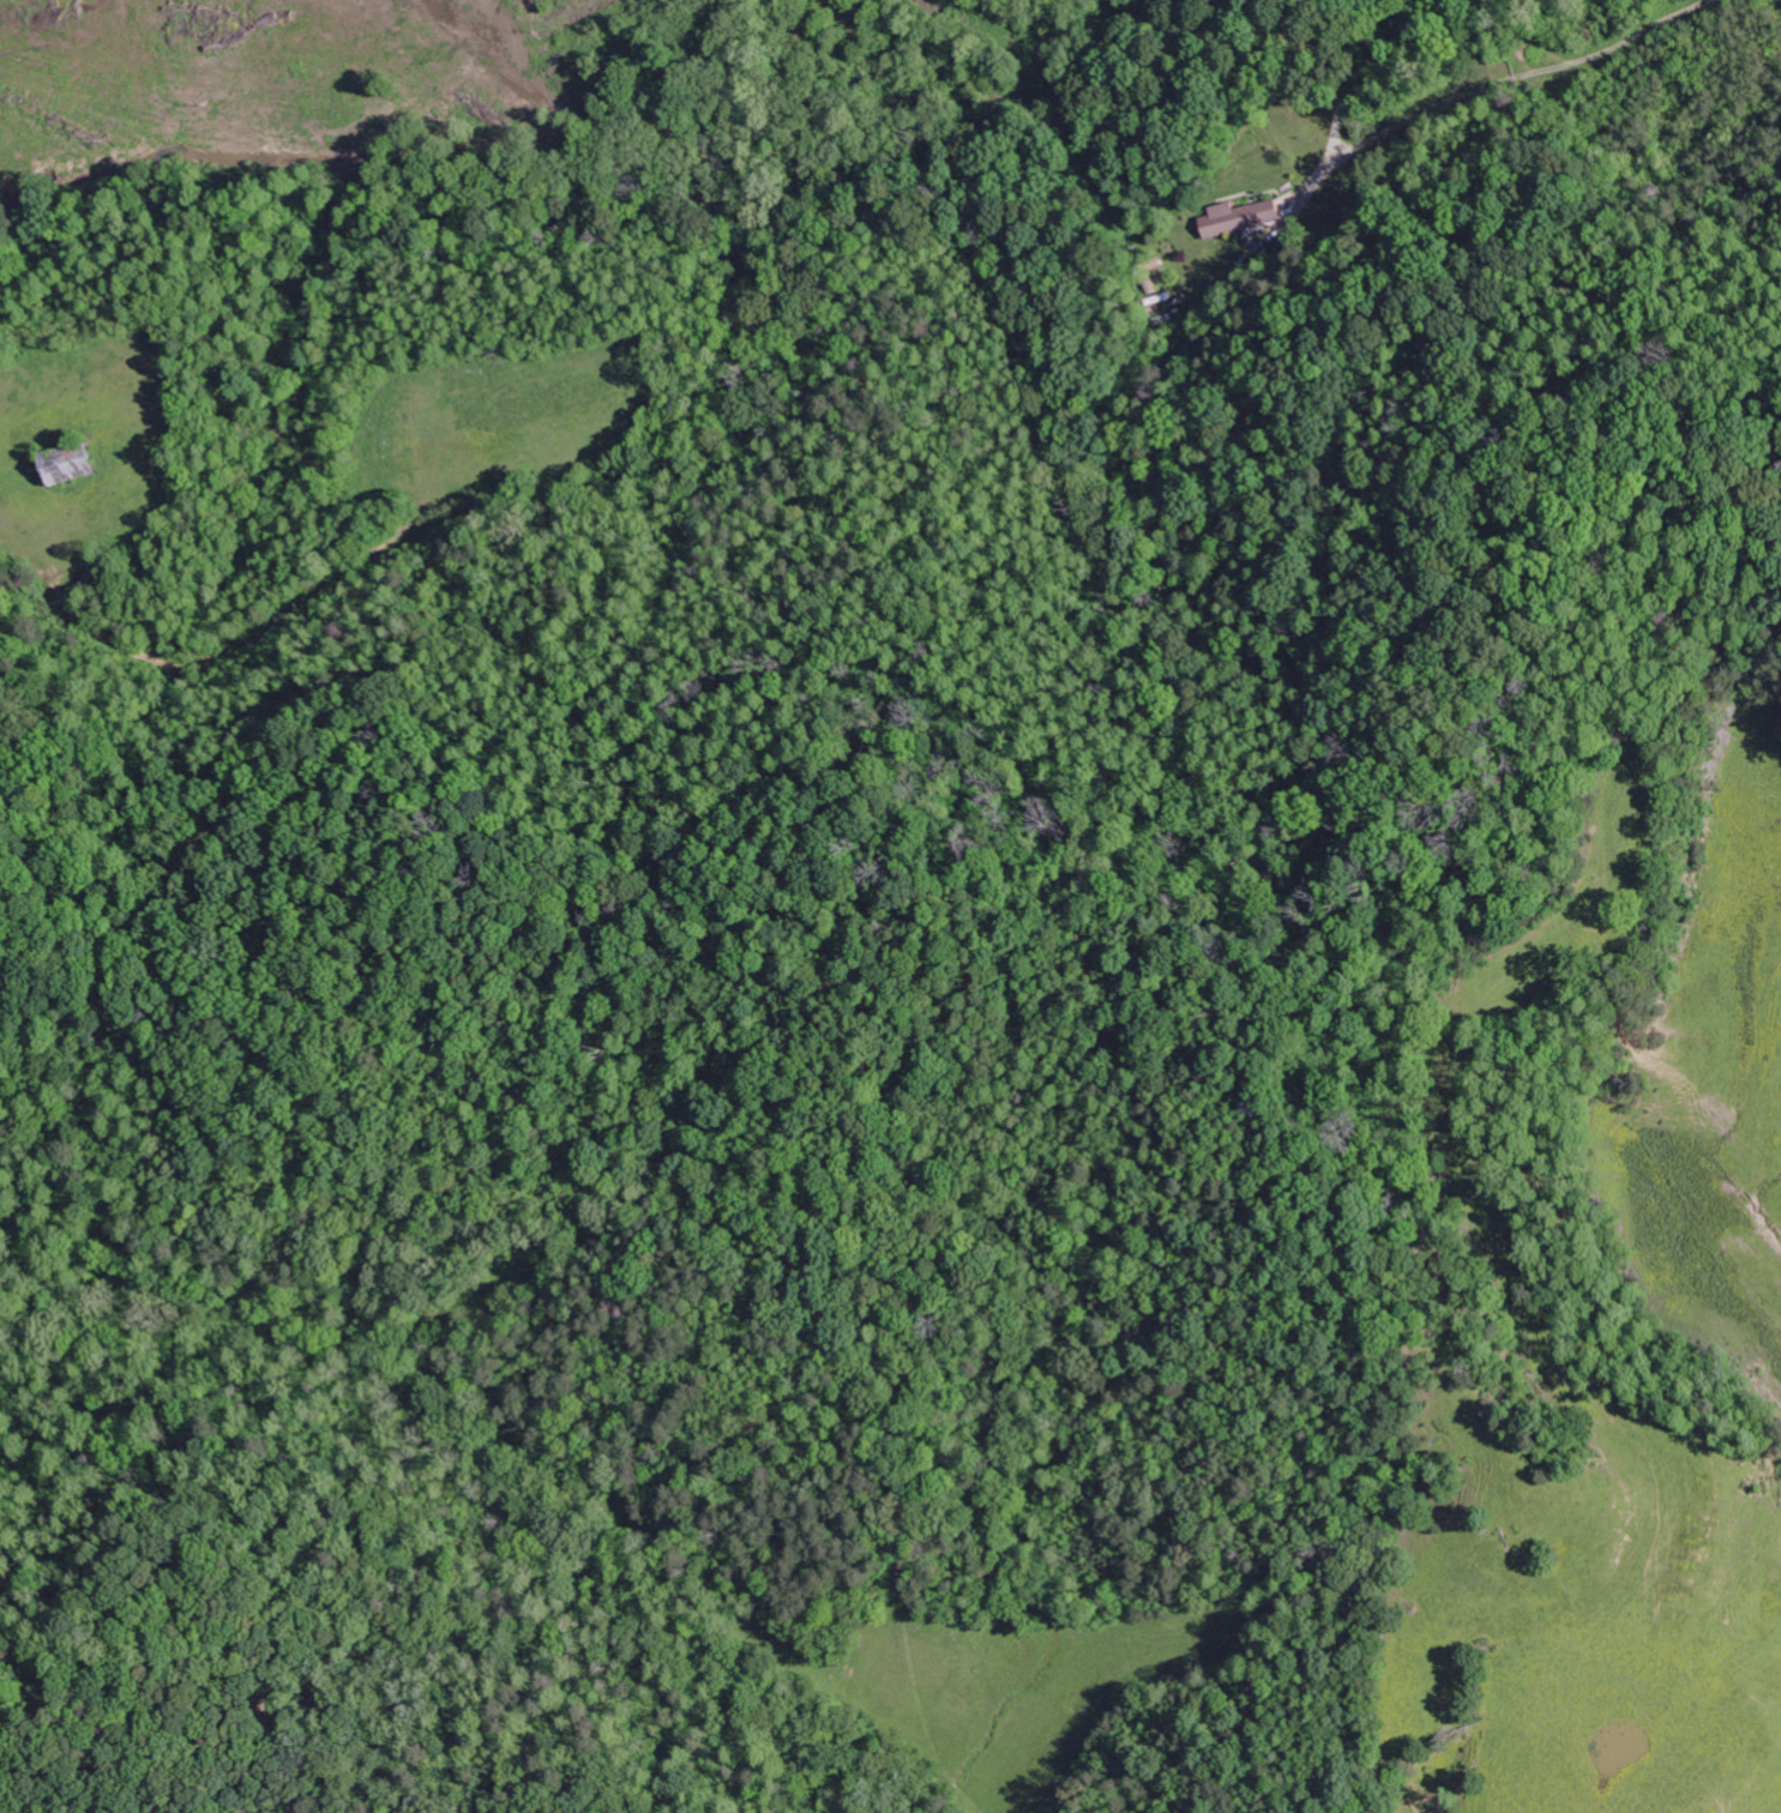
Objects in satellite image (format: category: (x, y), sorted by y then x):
building: (1244, 216)
building: (77, 463)

